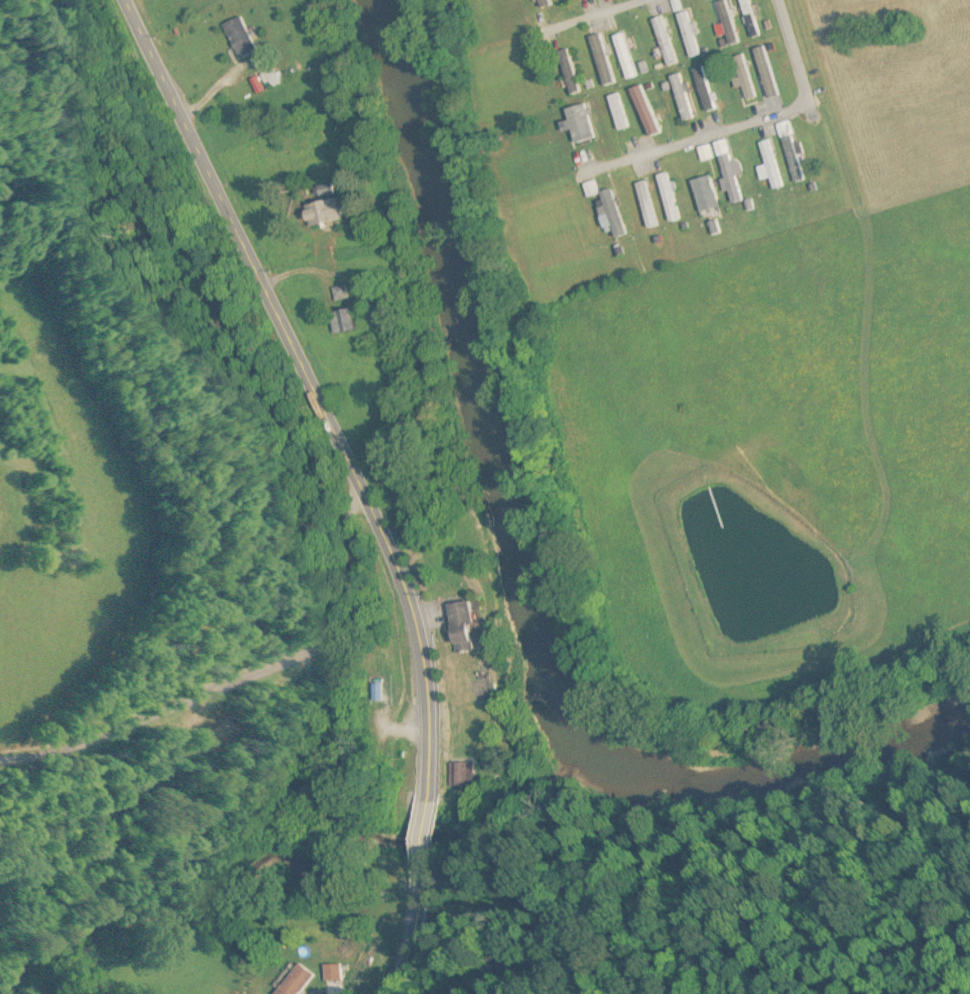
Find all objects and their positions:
road: (596, 15)
road: (795, 53)
road: (700, 140)
road: (264, 285)
river: (524, 574)
road: (429, 784)

